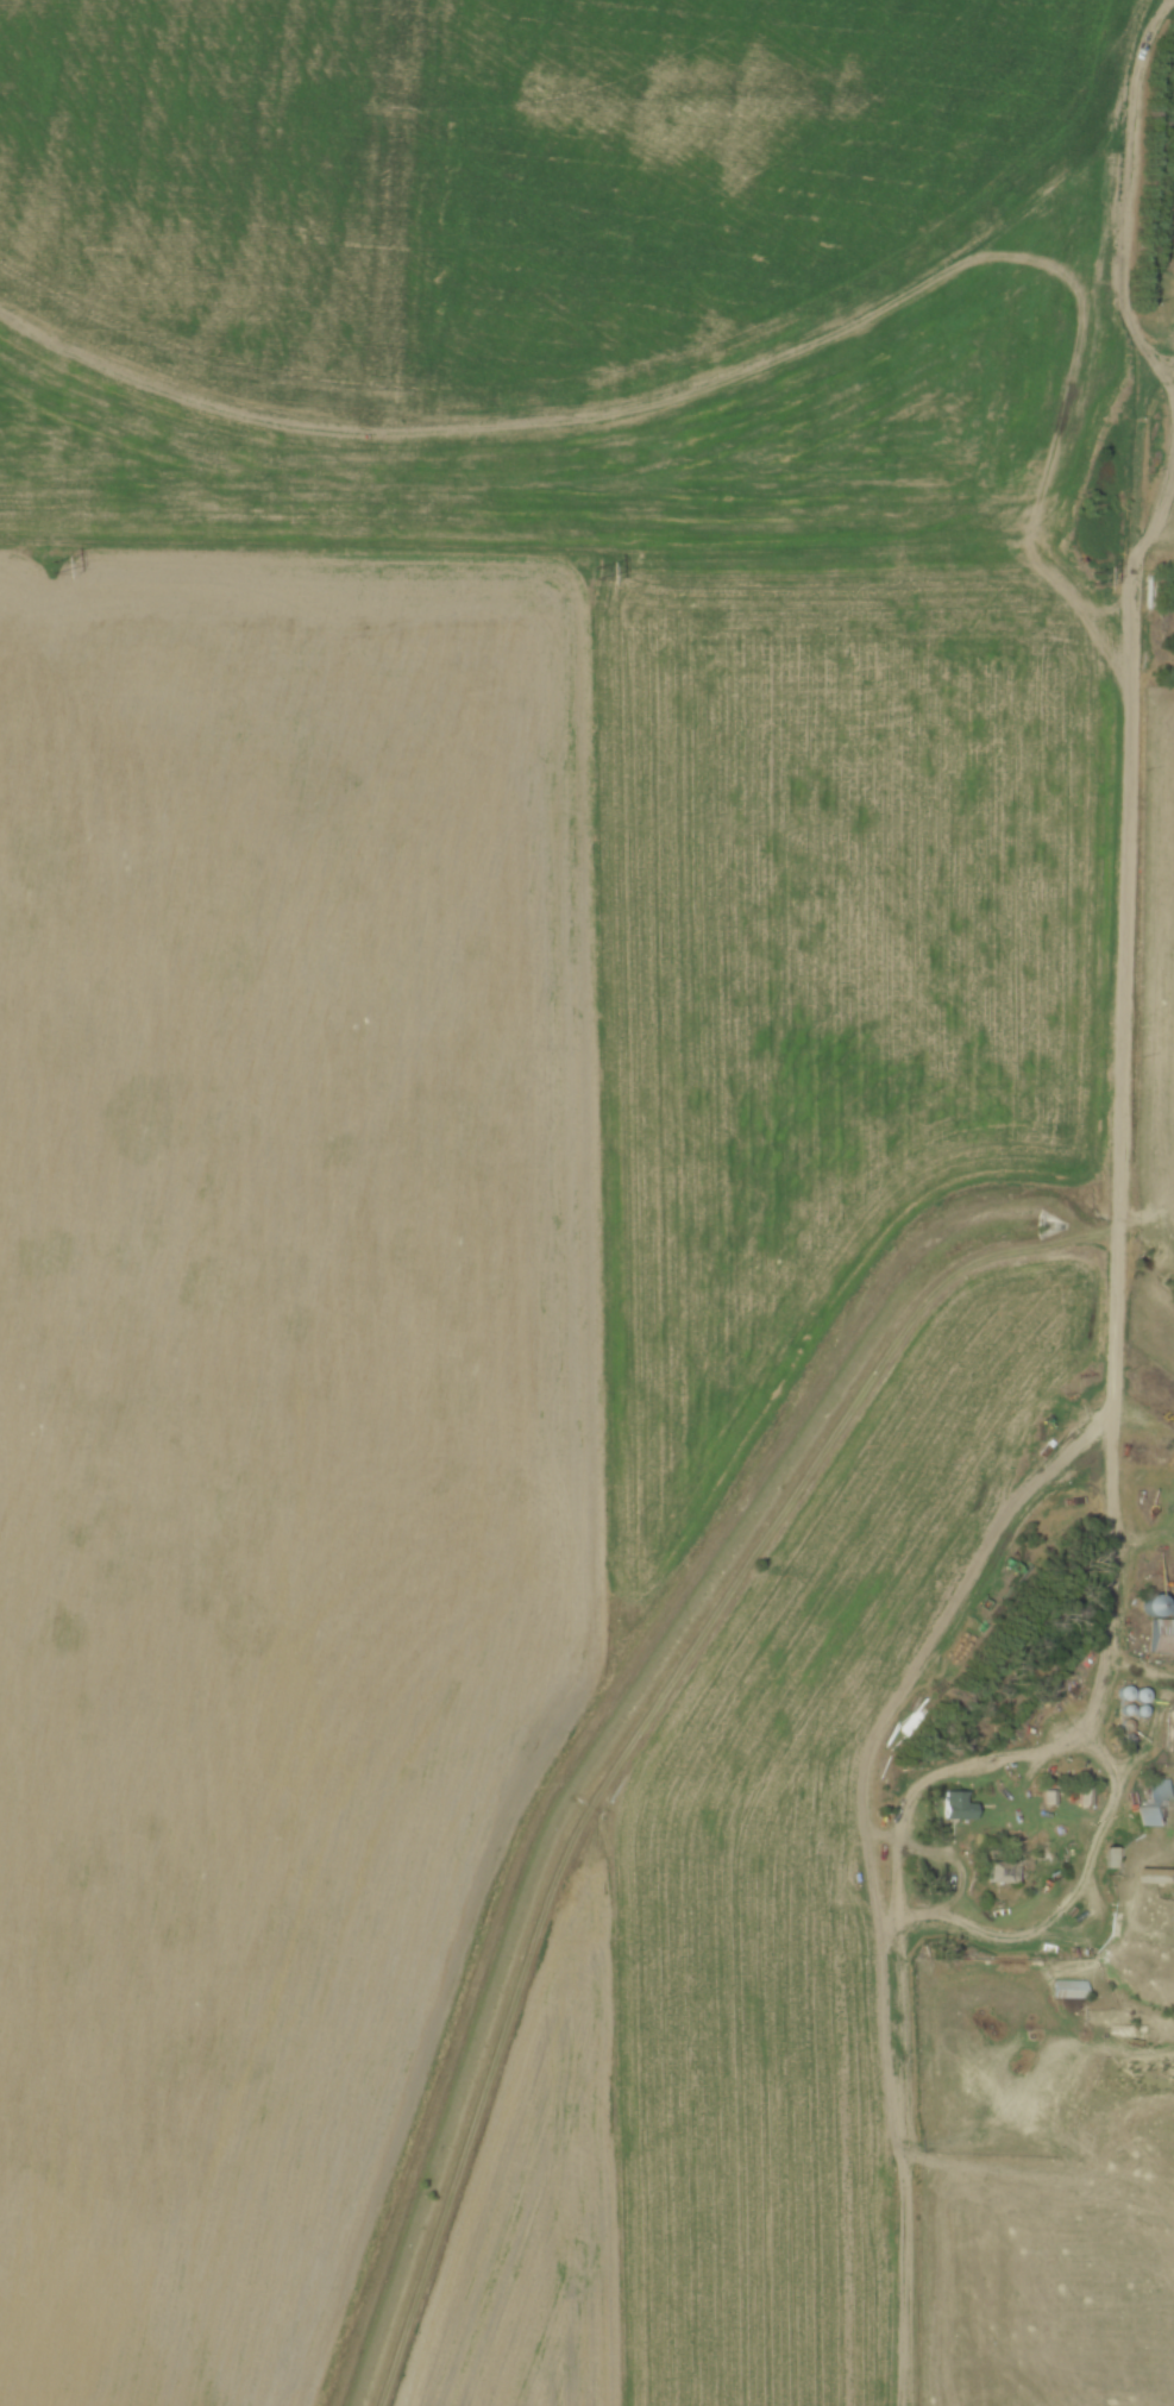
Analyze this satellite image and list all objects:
road: (1162, 348)
road: (1160, 370)
power tower: (52, 567)
power tower: (595, 576)
power tower: (1092, 580)
road: (1118, 1269)
building: (1161, 1626)
building: (1159, 1803)
building: (958, 1807)
building: (1117, 1860)
building: (1004, 1872)
building: (1160, 1877)
road: (1044, 1930)
building: (1071, 1990)

